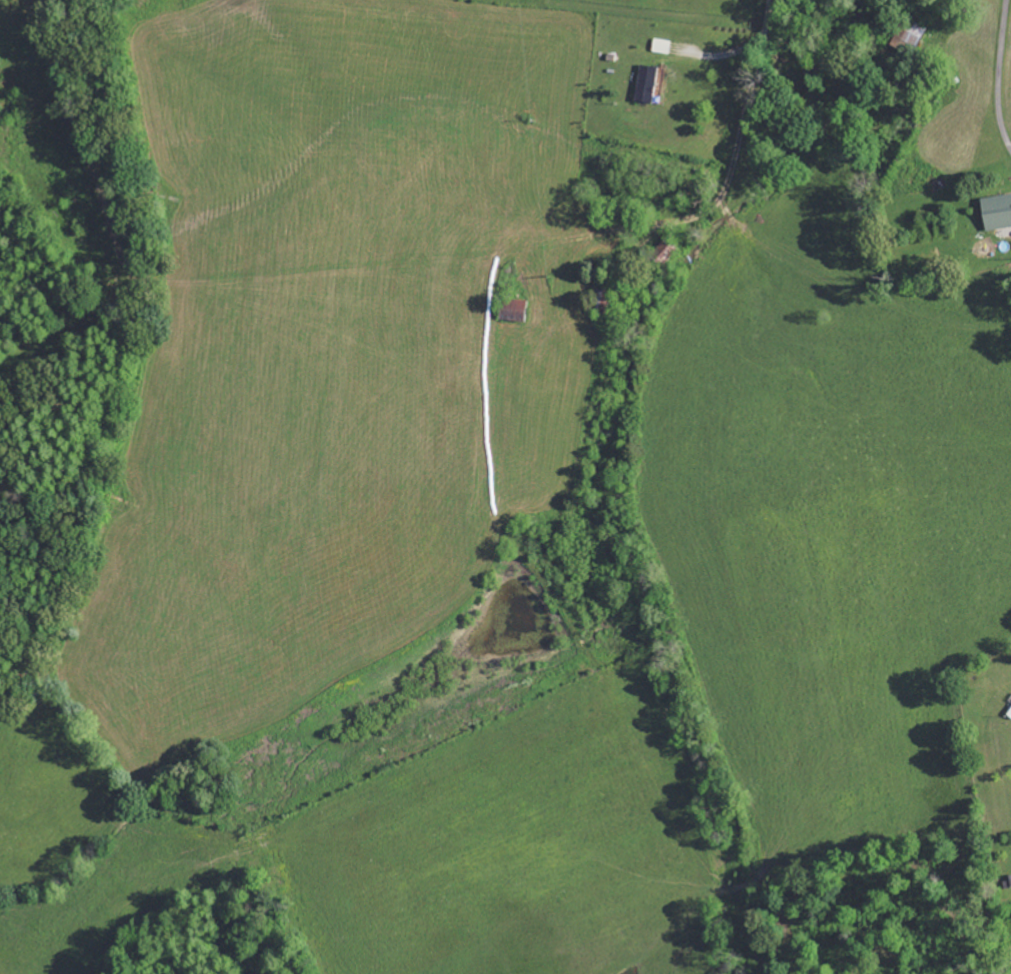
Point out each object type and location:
building: (908, 38)
building: (662, 46)
building: (647, 84)
road: (697, 184)
building: (997, 212)
building: (514, 310)

